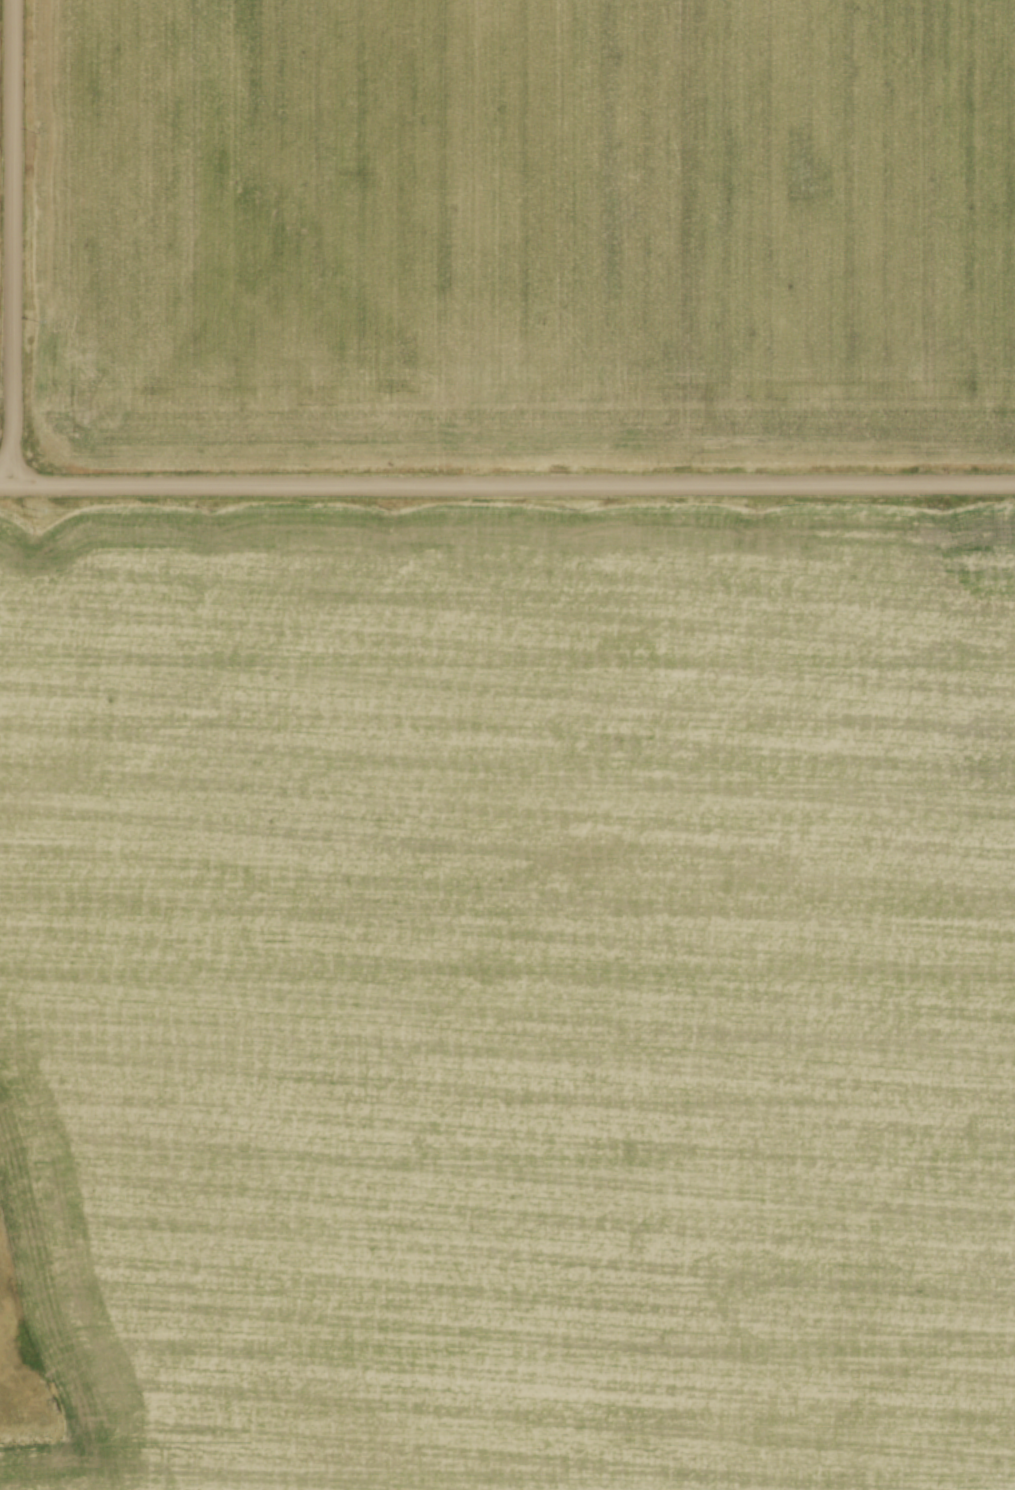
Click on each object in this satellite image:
crop: (527, 231)
road: (12, 235)
road: (20, 471)
road: (507, 483)
crop: (507, 996)

